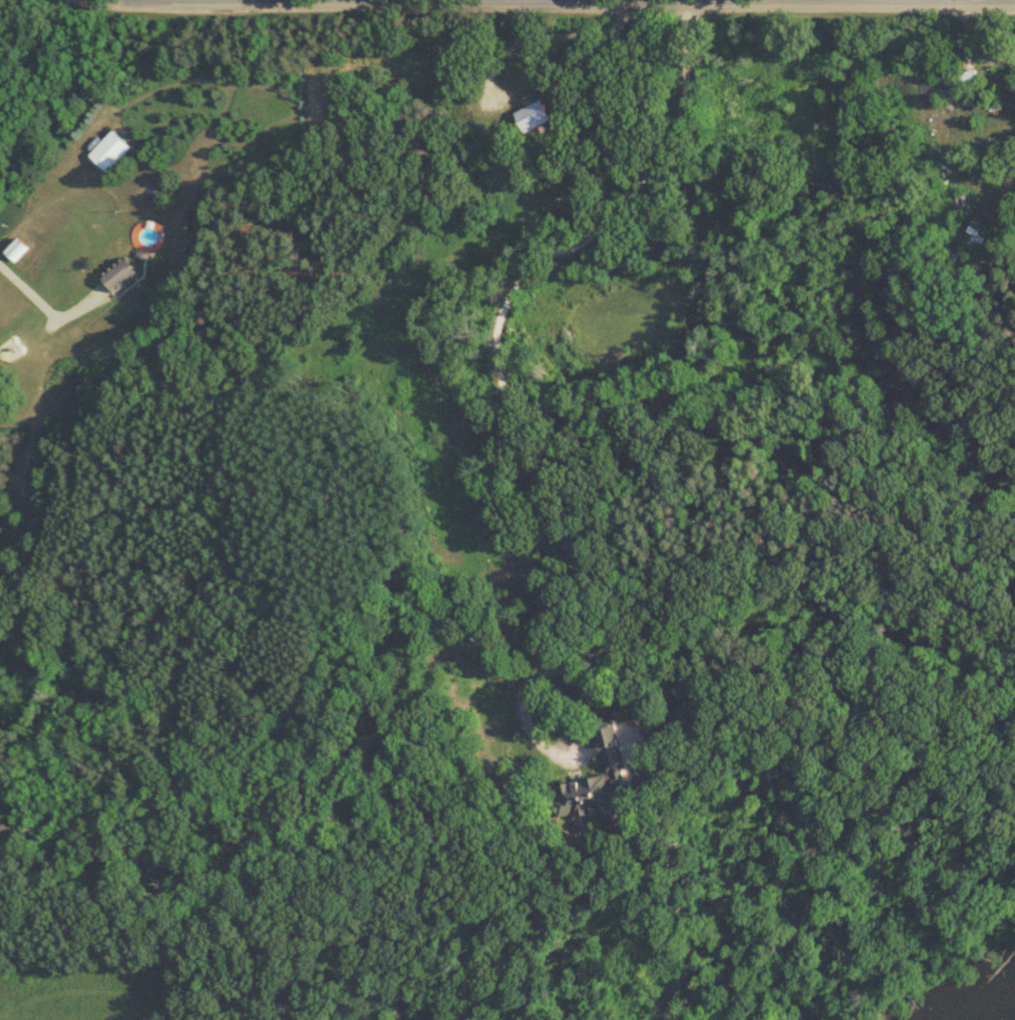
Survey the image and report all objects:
road: (977, 2)
road: (565, 3)
building: (948, 85)
building: (536, 116)
building: (110, 151)
building: (962, 202)
building: (973, 237)
building: (15, 251)
building: (121, 275)
road: (47, 308)
road: (498, 373)
building: (597, 781)
river: (947, 990)

